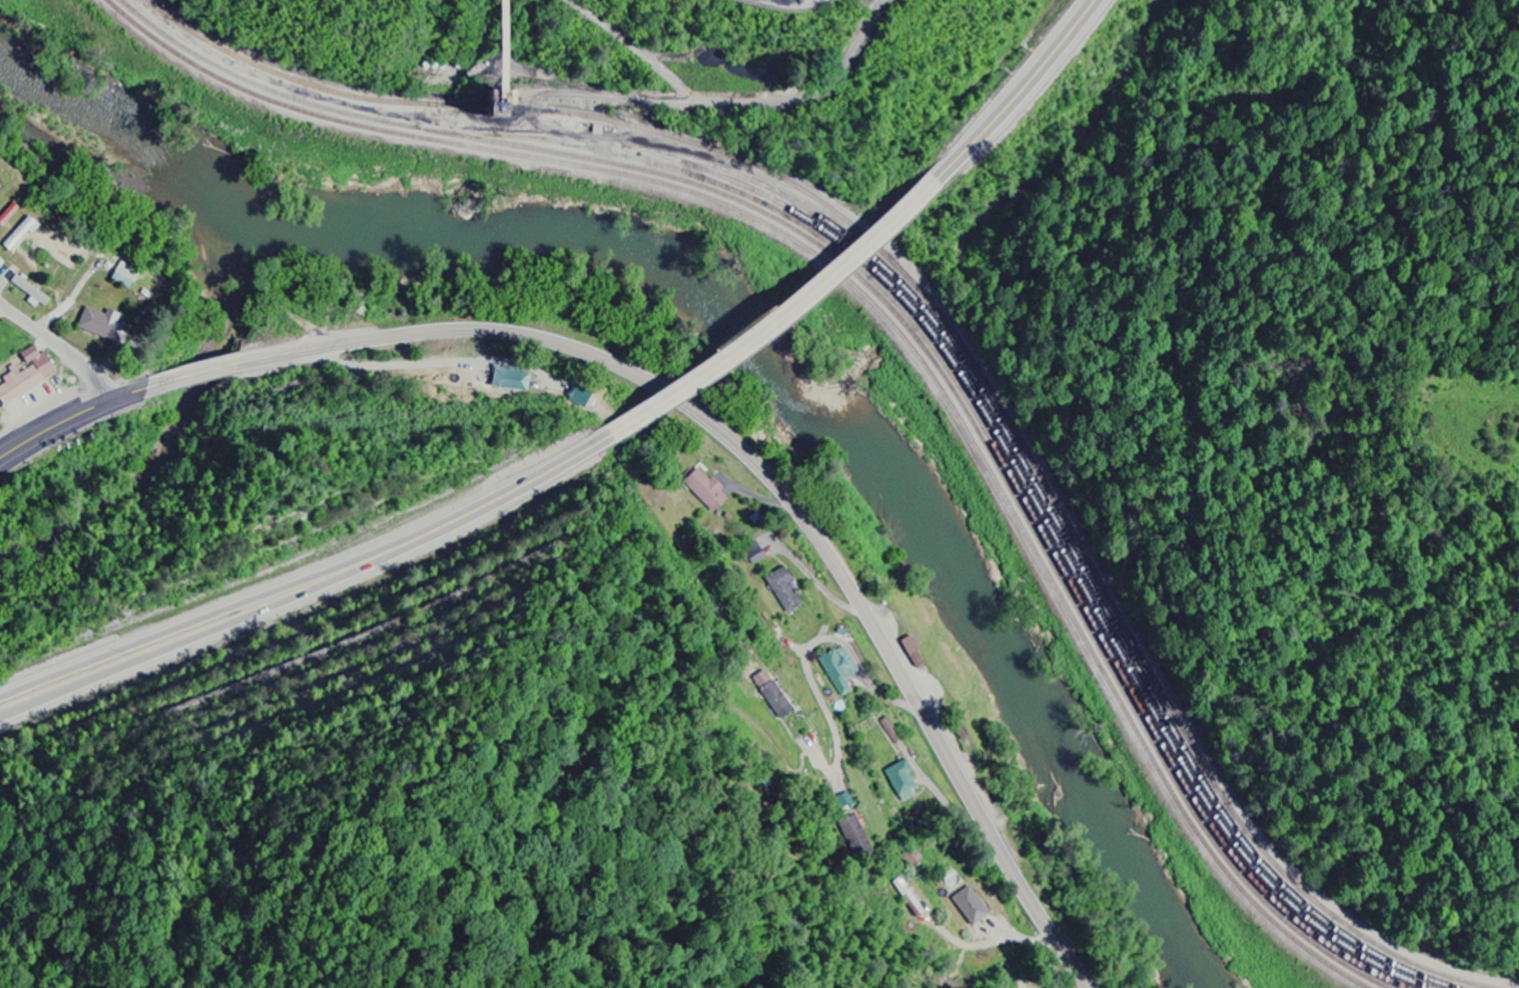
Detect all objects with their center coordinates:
road: (1016, 95)
building: (1, 263)
building: (124, 276)
building: (31, 293)
railway: (879, 309)
road: (773, 313)
railway: (895, 313)
river: (748, 317)
building: (103, 326)
road: (61, 347)
building: (26, 376)
building: (510, 381)
building: (578, 399)
road: (682, 402)
building: (706, 490)
building: (754, 554)
road: (311, 583)
building: (784, 591)
road: (860, 668)
building: (839, 670)
building: (772, 694)
building: (902, 780)
building: (844, 800)
building: (855, 835)
building: (970, 906)

